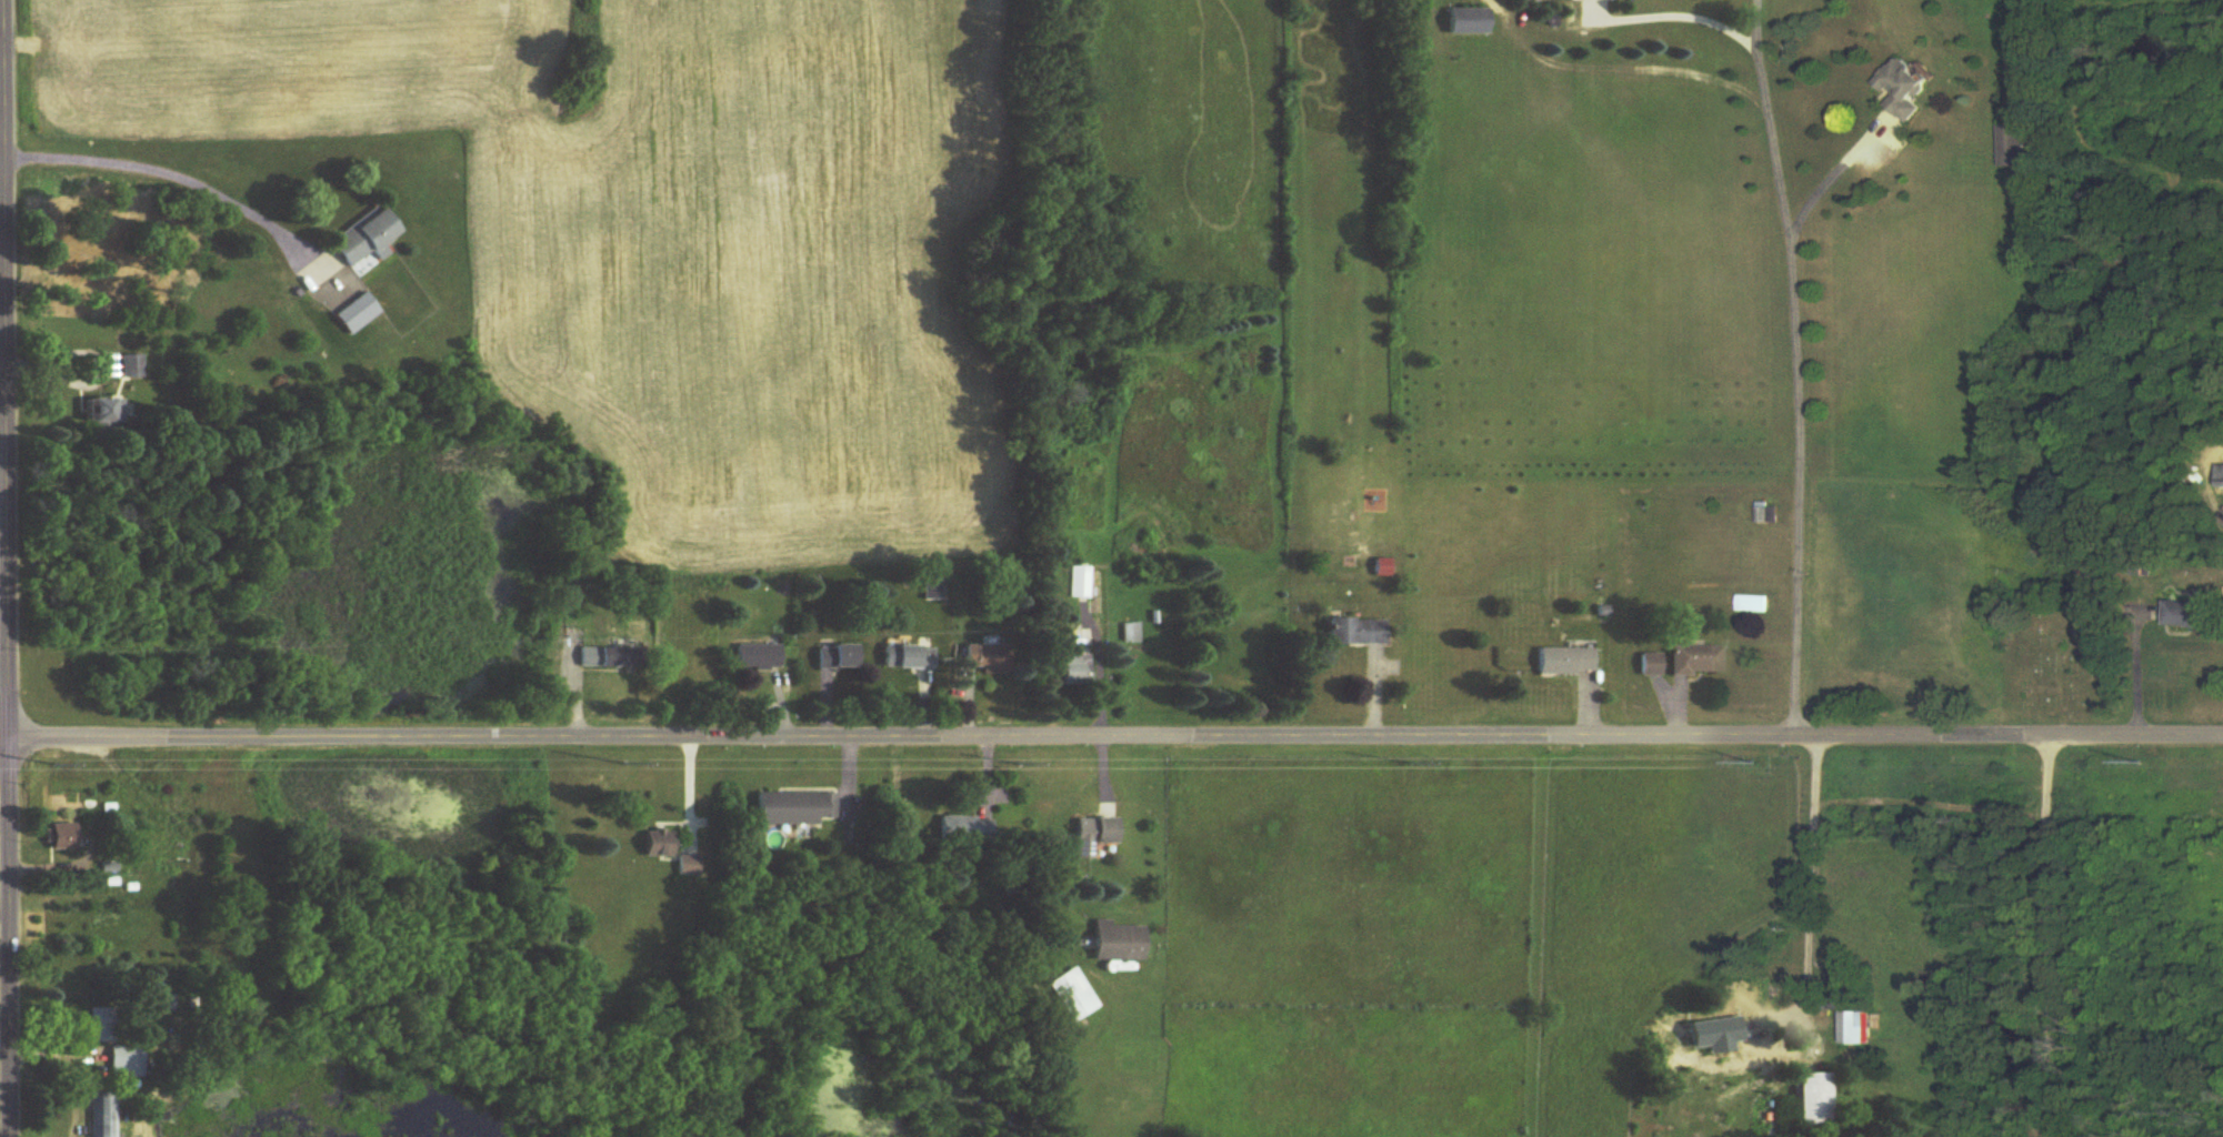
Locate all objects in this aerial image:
road: (1680, 12)
building: (1468, 22)
building: (1904, 91)
road: (2, 132)
building: (2012, 148)
road: (1830, 171)
road: (160, 174)
building: (366, 238)
road: (2, 246)
building: (358, 314)
building: (131, 366)
road: (1795, 366)
building: (100, 414)
building: (2222, 479)
building: (1770, 514)
road: (7, 568)
building: (1079, 583)
building: (1852, 597)
building: (1755, 605)
building: (2186, 615)
building: (1356, 632)
building: (1074, 640)
building: (837, 656)
building: (759, 657)
building: (908, 657)
building: (609, 658)
building: (989, 660)
building: (1695, 661)
building: (1565, 662)
building: (1650, 665)
road: (2131, 670)
building: (1072, 672)
road: (1111, 738)
power tower: (38, 764)
power tower: (2123, 764)
power tower: (1024, 765)
power tower: (1762, 765)
power tower: (611, 766)
power tower: (1395, 766)
building: (798, 808)
building: (968, 829)
building: (1105, 831)
building: (62, 836)
building: (1084, 838)
building: (659, 845)
building: (689, 865)
building: (109, 866)
road: (1811, 878)
road: (2044, 937)
building: (1118, 943)
building: (1074, 995)
building: (99, 1024)
building: (1861, 1028)
building: (1738, 1032)
building: (129, 1058)
building: (1815, 1101)
building: (106, 1115)

